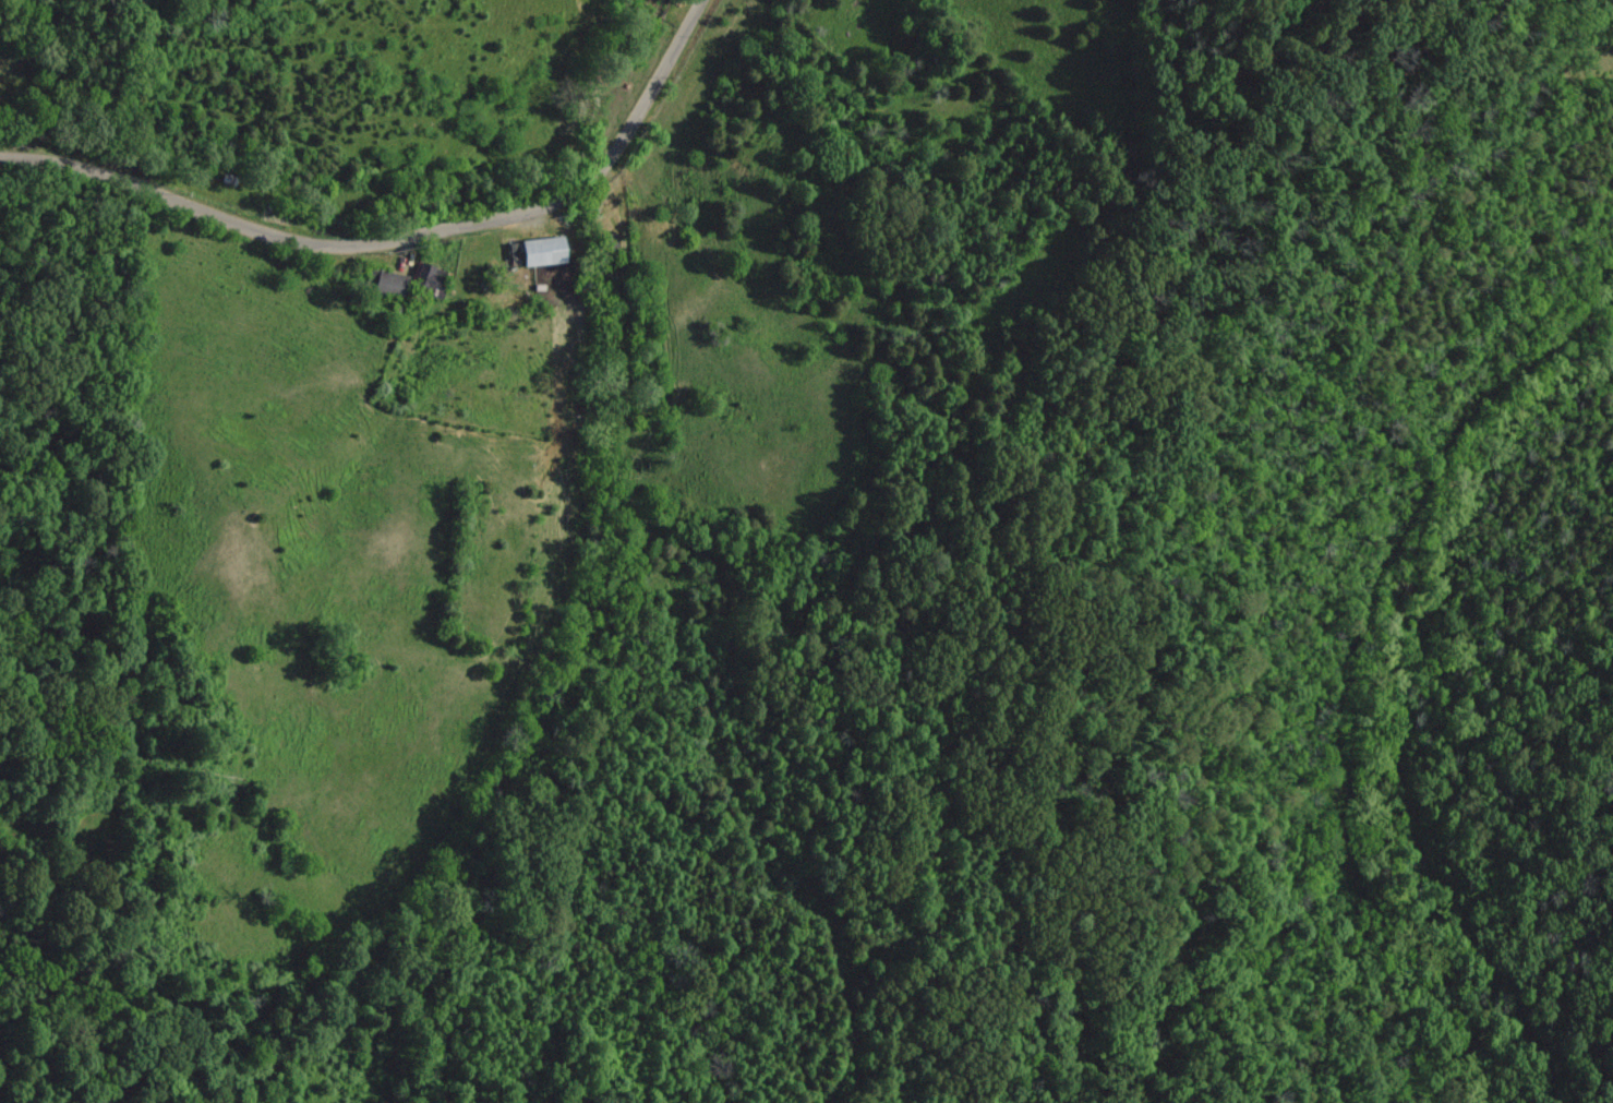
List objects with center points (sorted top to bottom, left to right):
road: (396, 235)
building: (543, 251)
building: (430, 279)
building: (387, 283)

